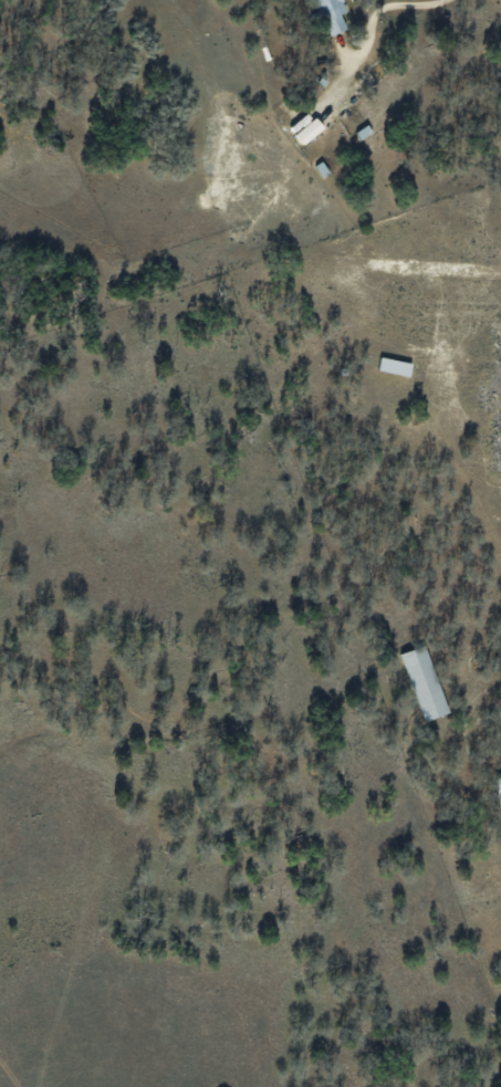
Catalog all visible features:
road: (405, 4)
building: (328, 14)
building: (301, 128)
building: (421, 682)
building: (497, 790)

